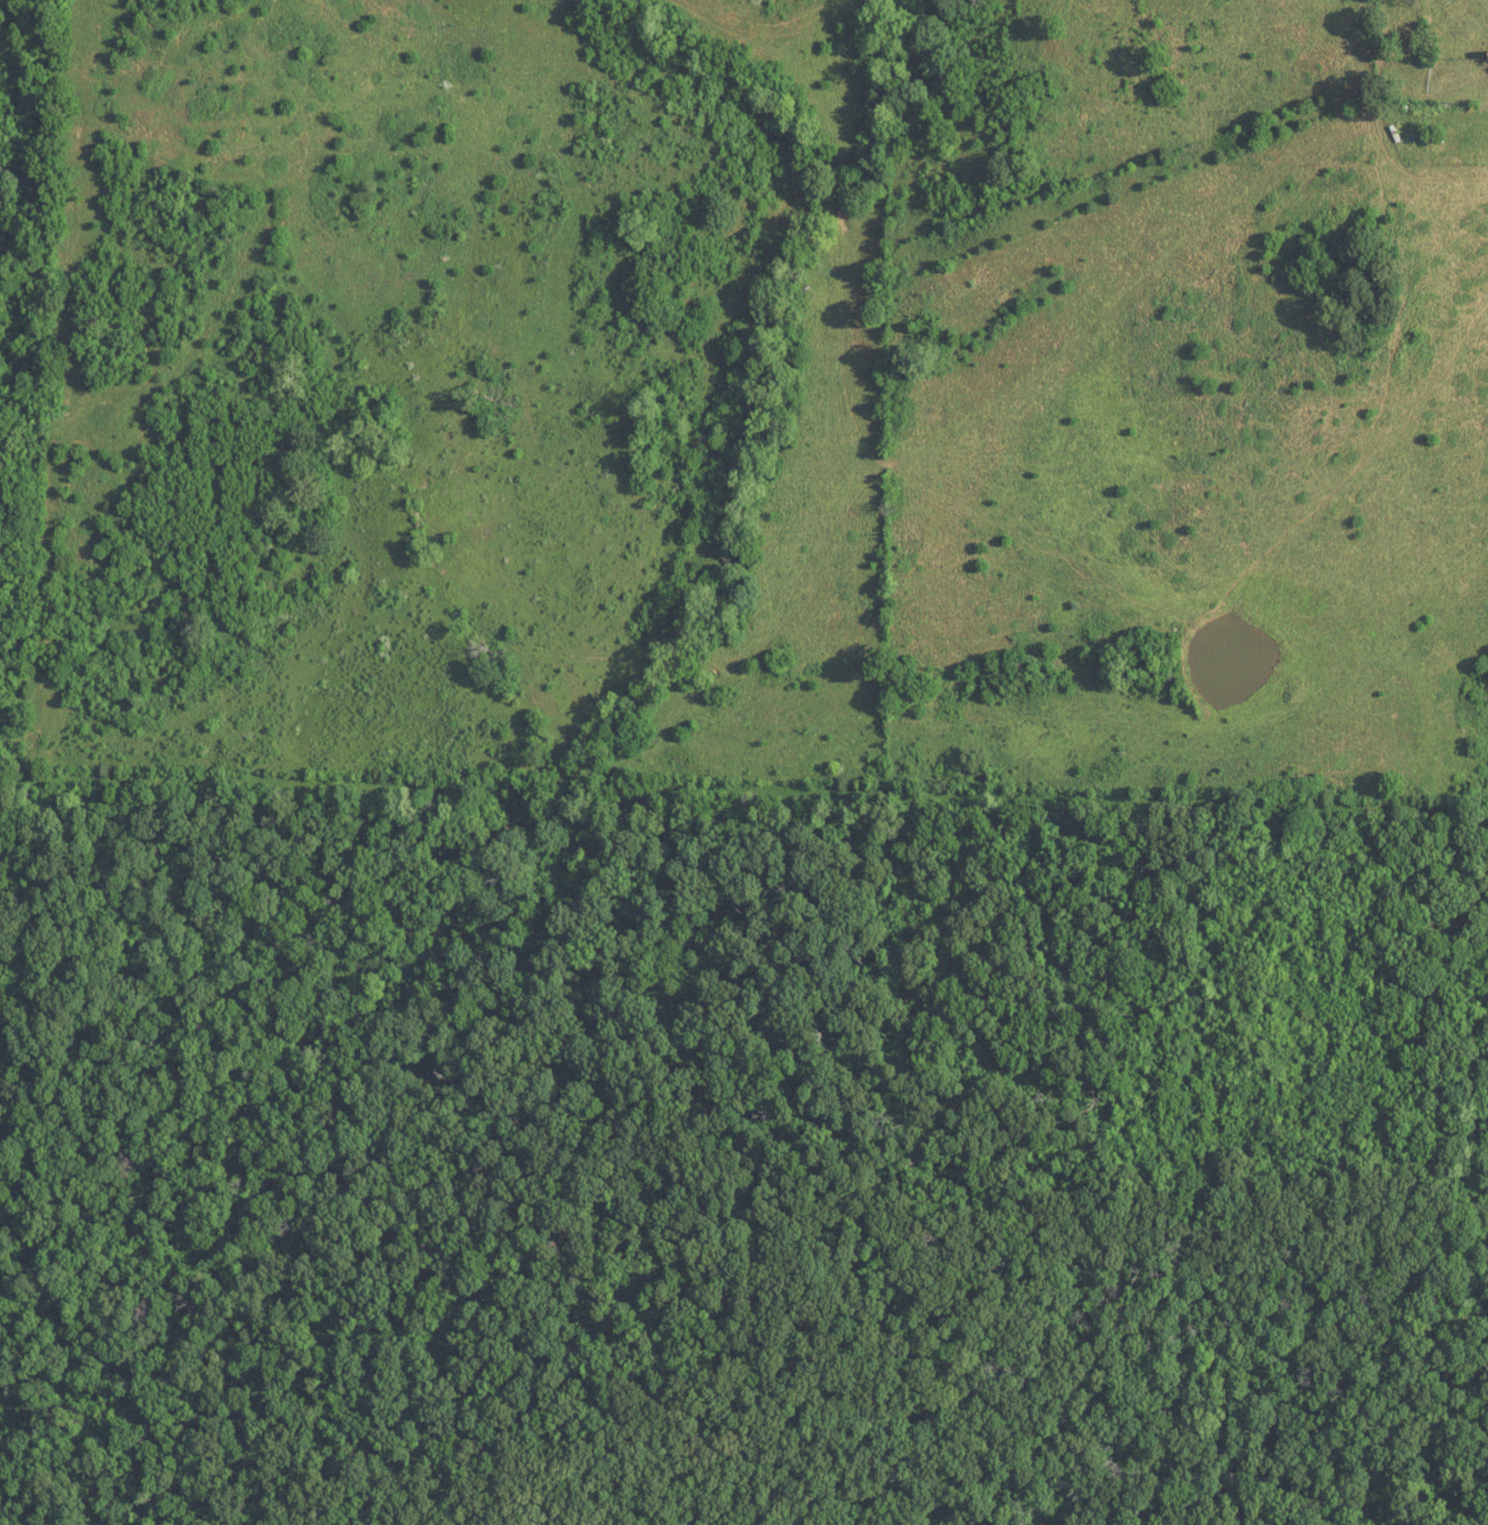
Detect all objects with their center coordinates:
road: (1476, 119)

